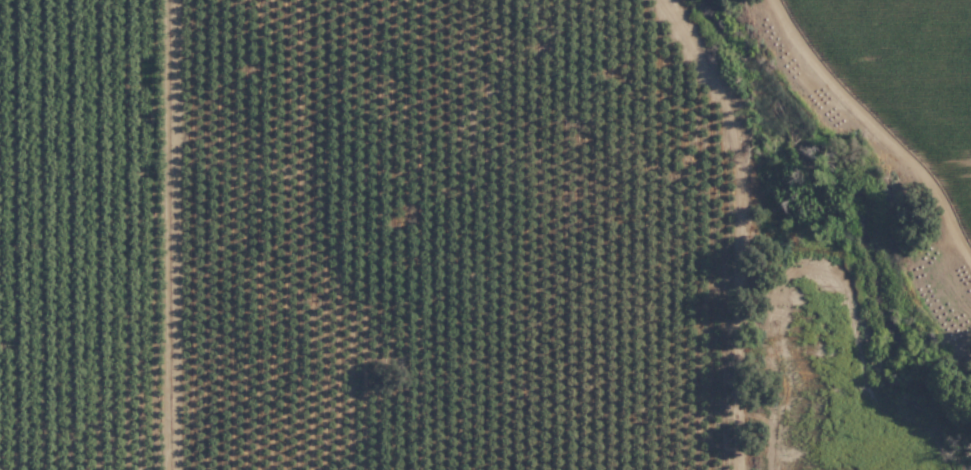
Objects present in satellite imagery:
crop: (898, 87)

